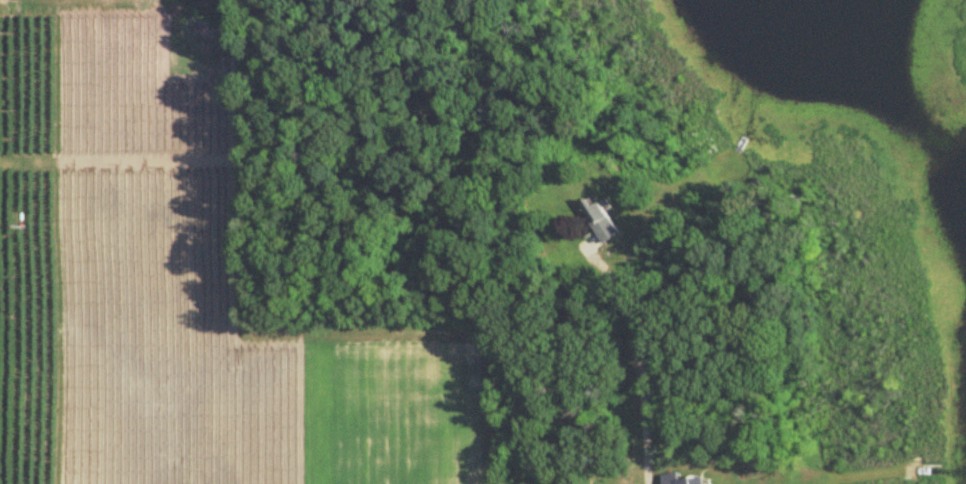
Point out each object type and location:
building: (599, 220)
road: (643, 368)
building: (683, 480)

